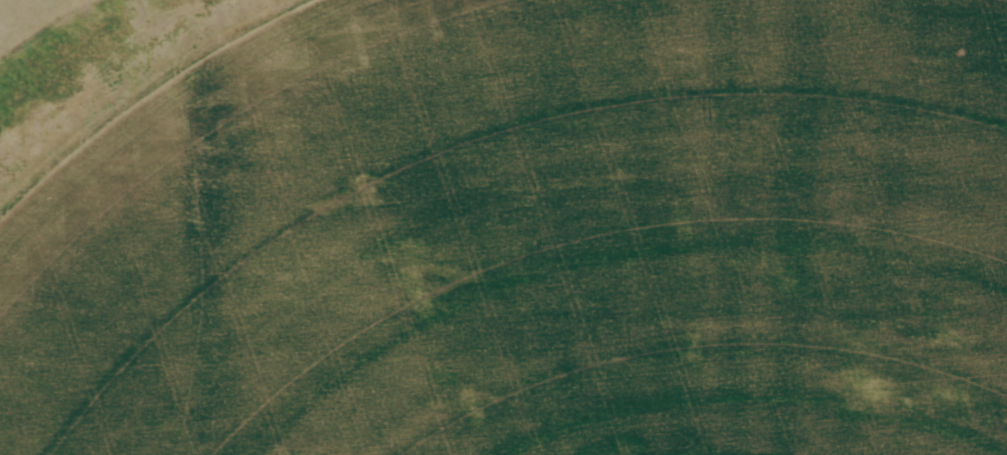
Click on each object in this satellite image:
crop: (532, 238)

